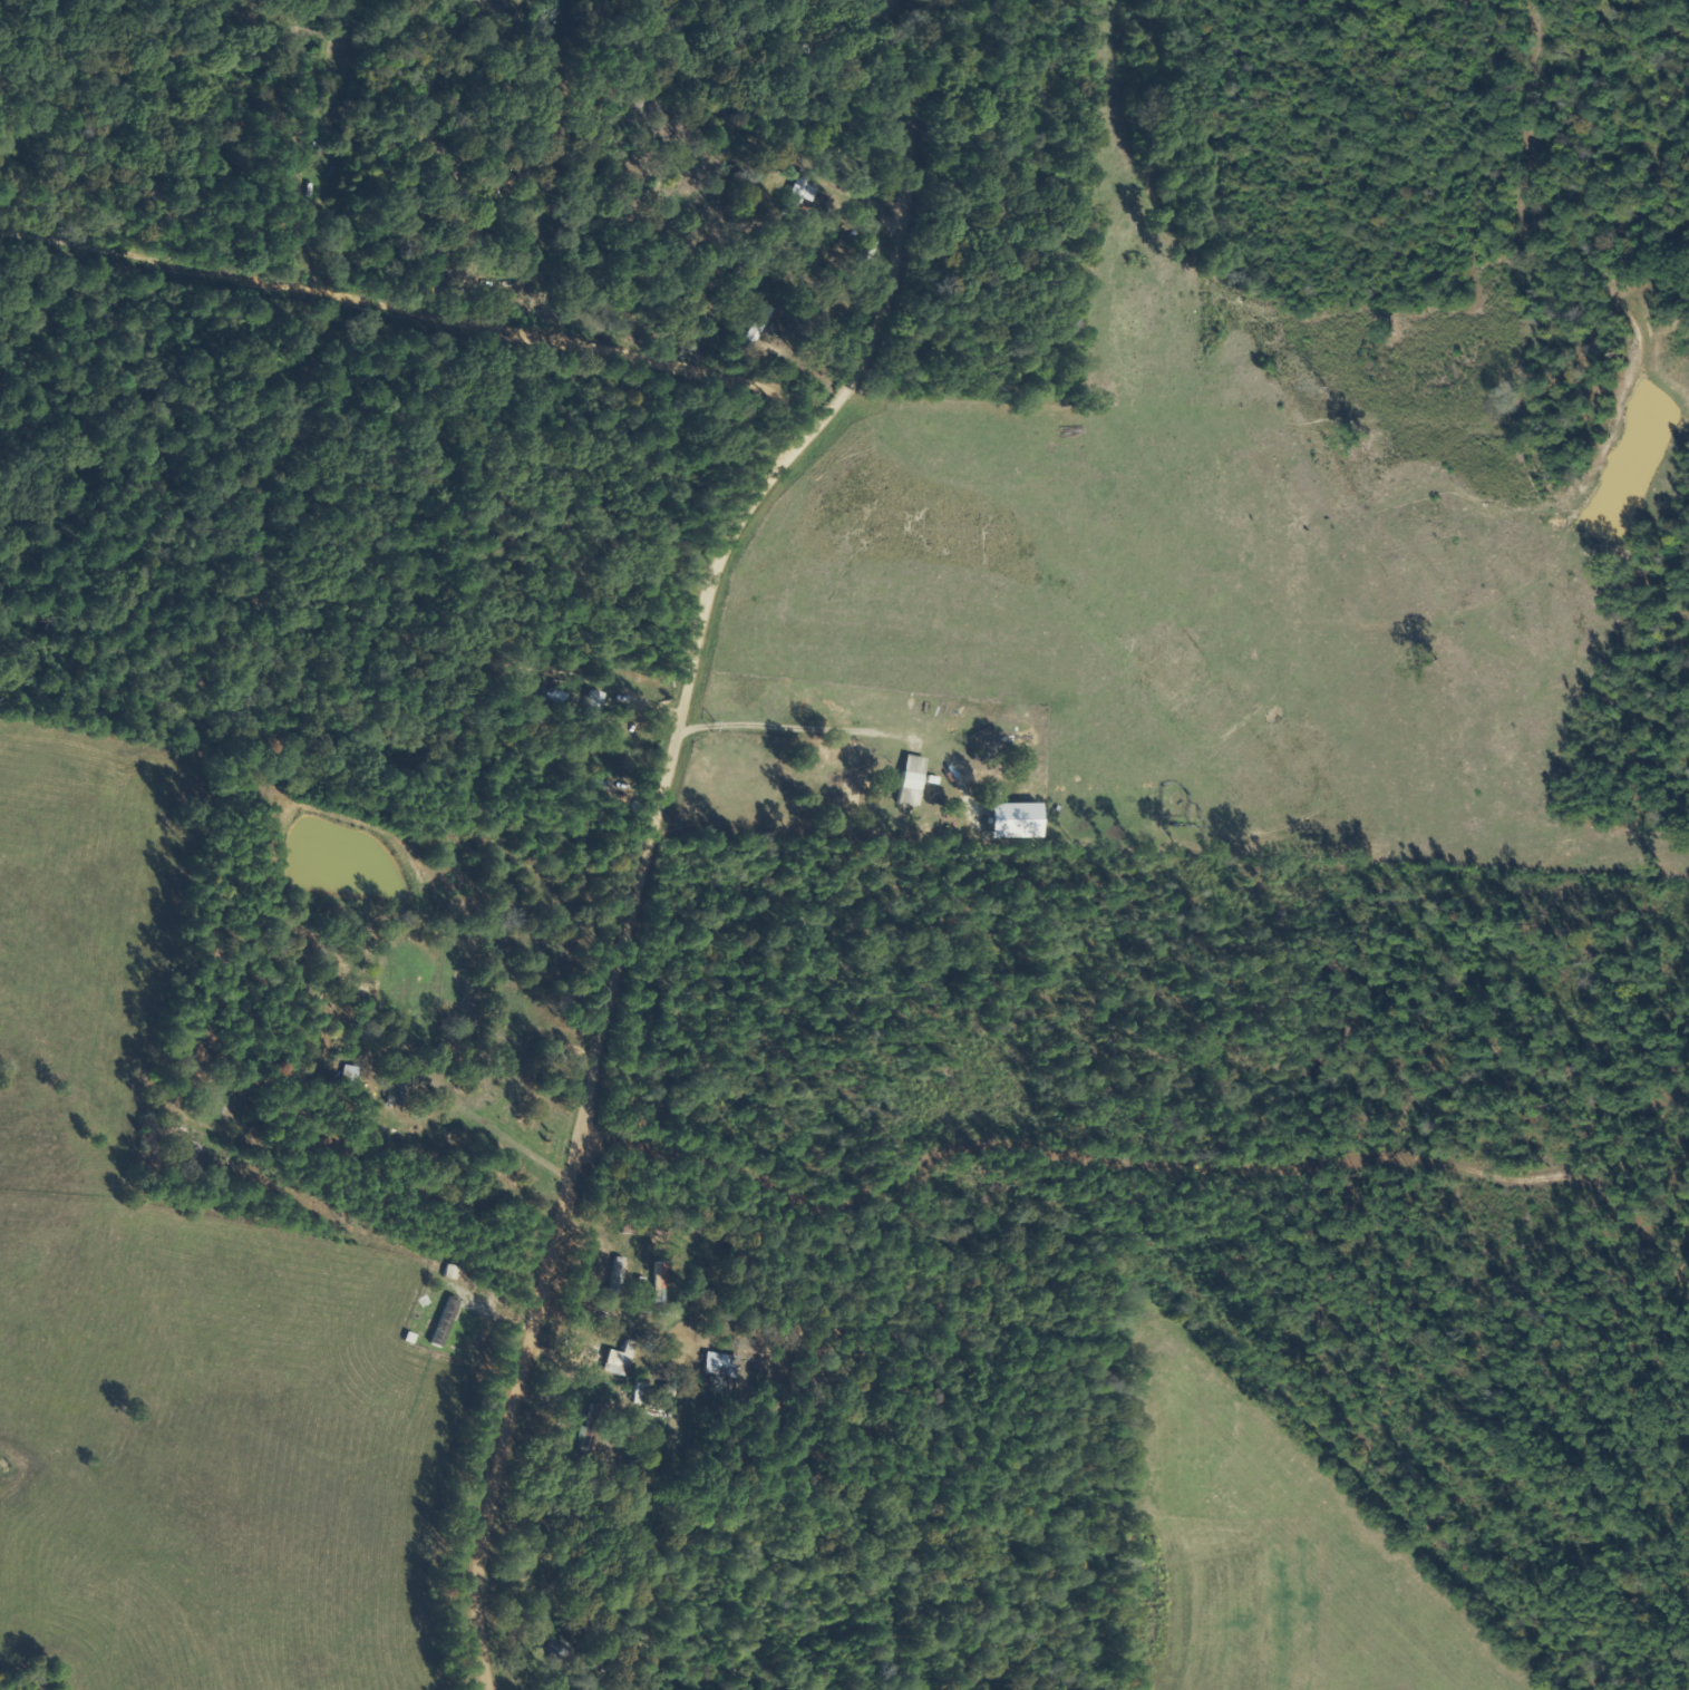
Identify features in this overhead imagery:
road: (338, 760)
building: (919, 781)
building: (1025, 820)
road: (659, 824)
building: (406, 1080)
road: (1146, 1164)
road: (273, 1296)
building: (450, 1322)
building: (724, 1364)

